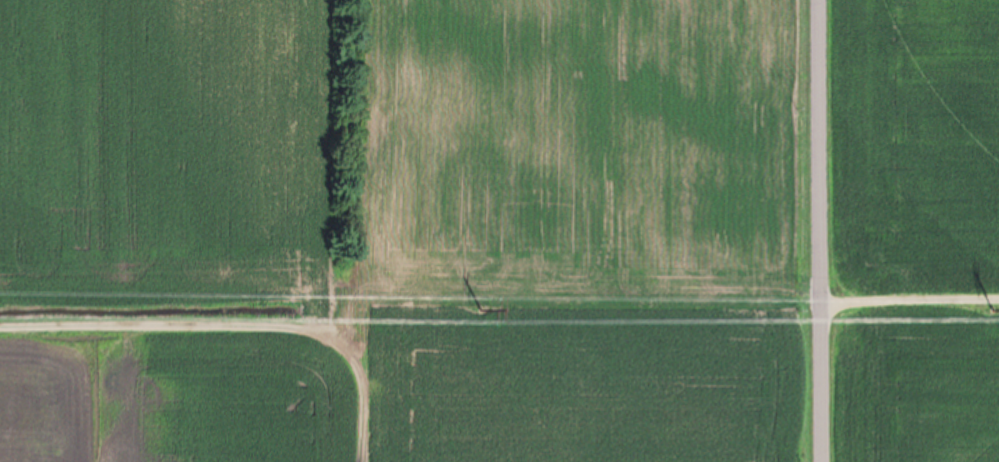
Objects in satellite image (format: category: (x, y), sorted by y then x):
road: (822, 230)
road: (910, 292)
power tower: (995, 303)
power tower: (483, 304)

